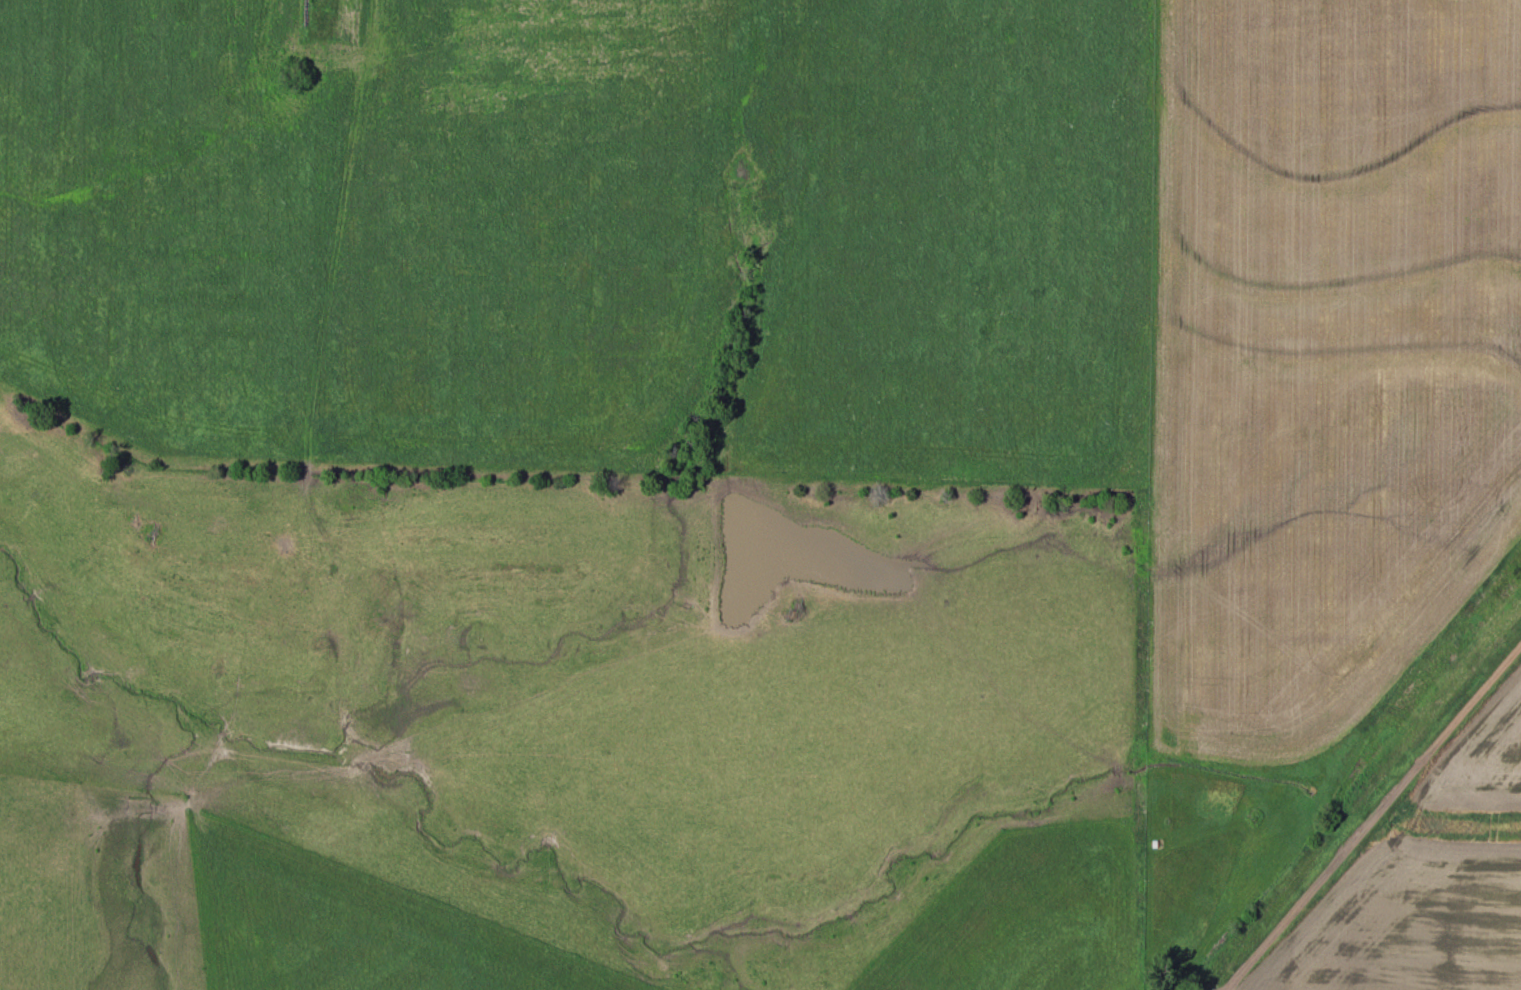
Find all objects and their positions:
crop: (1483, 753)
crop: (1413, 923)

